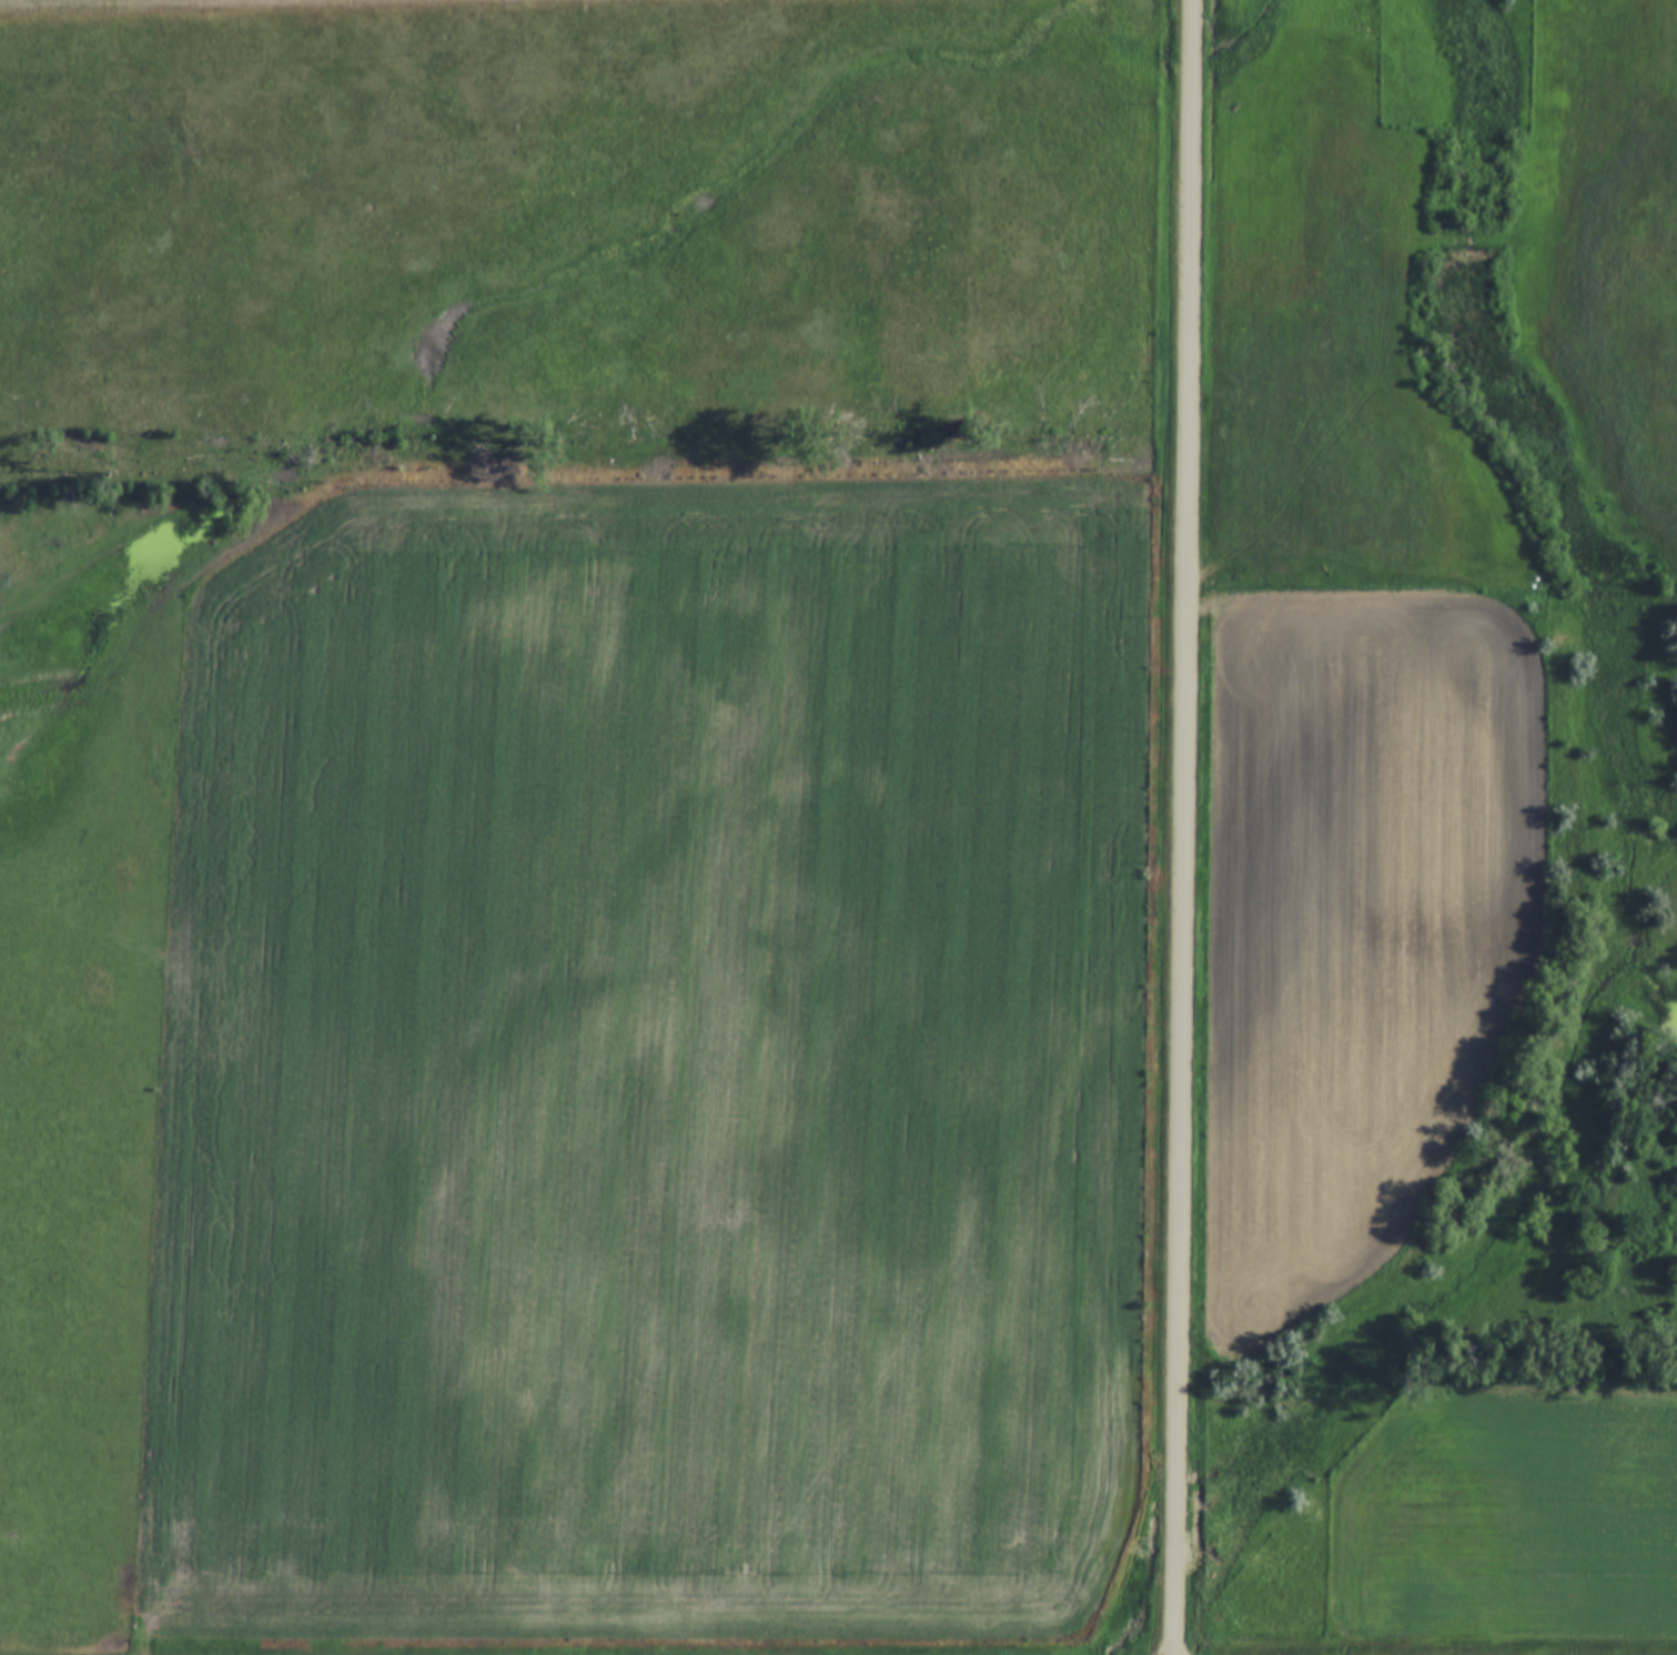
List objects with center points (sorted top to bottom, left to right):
road: (1188, 827)

